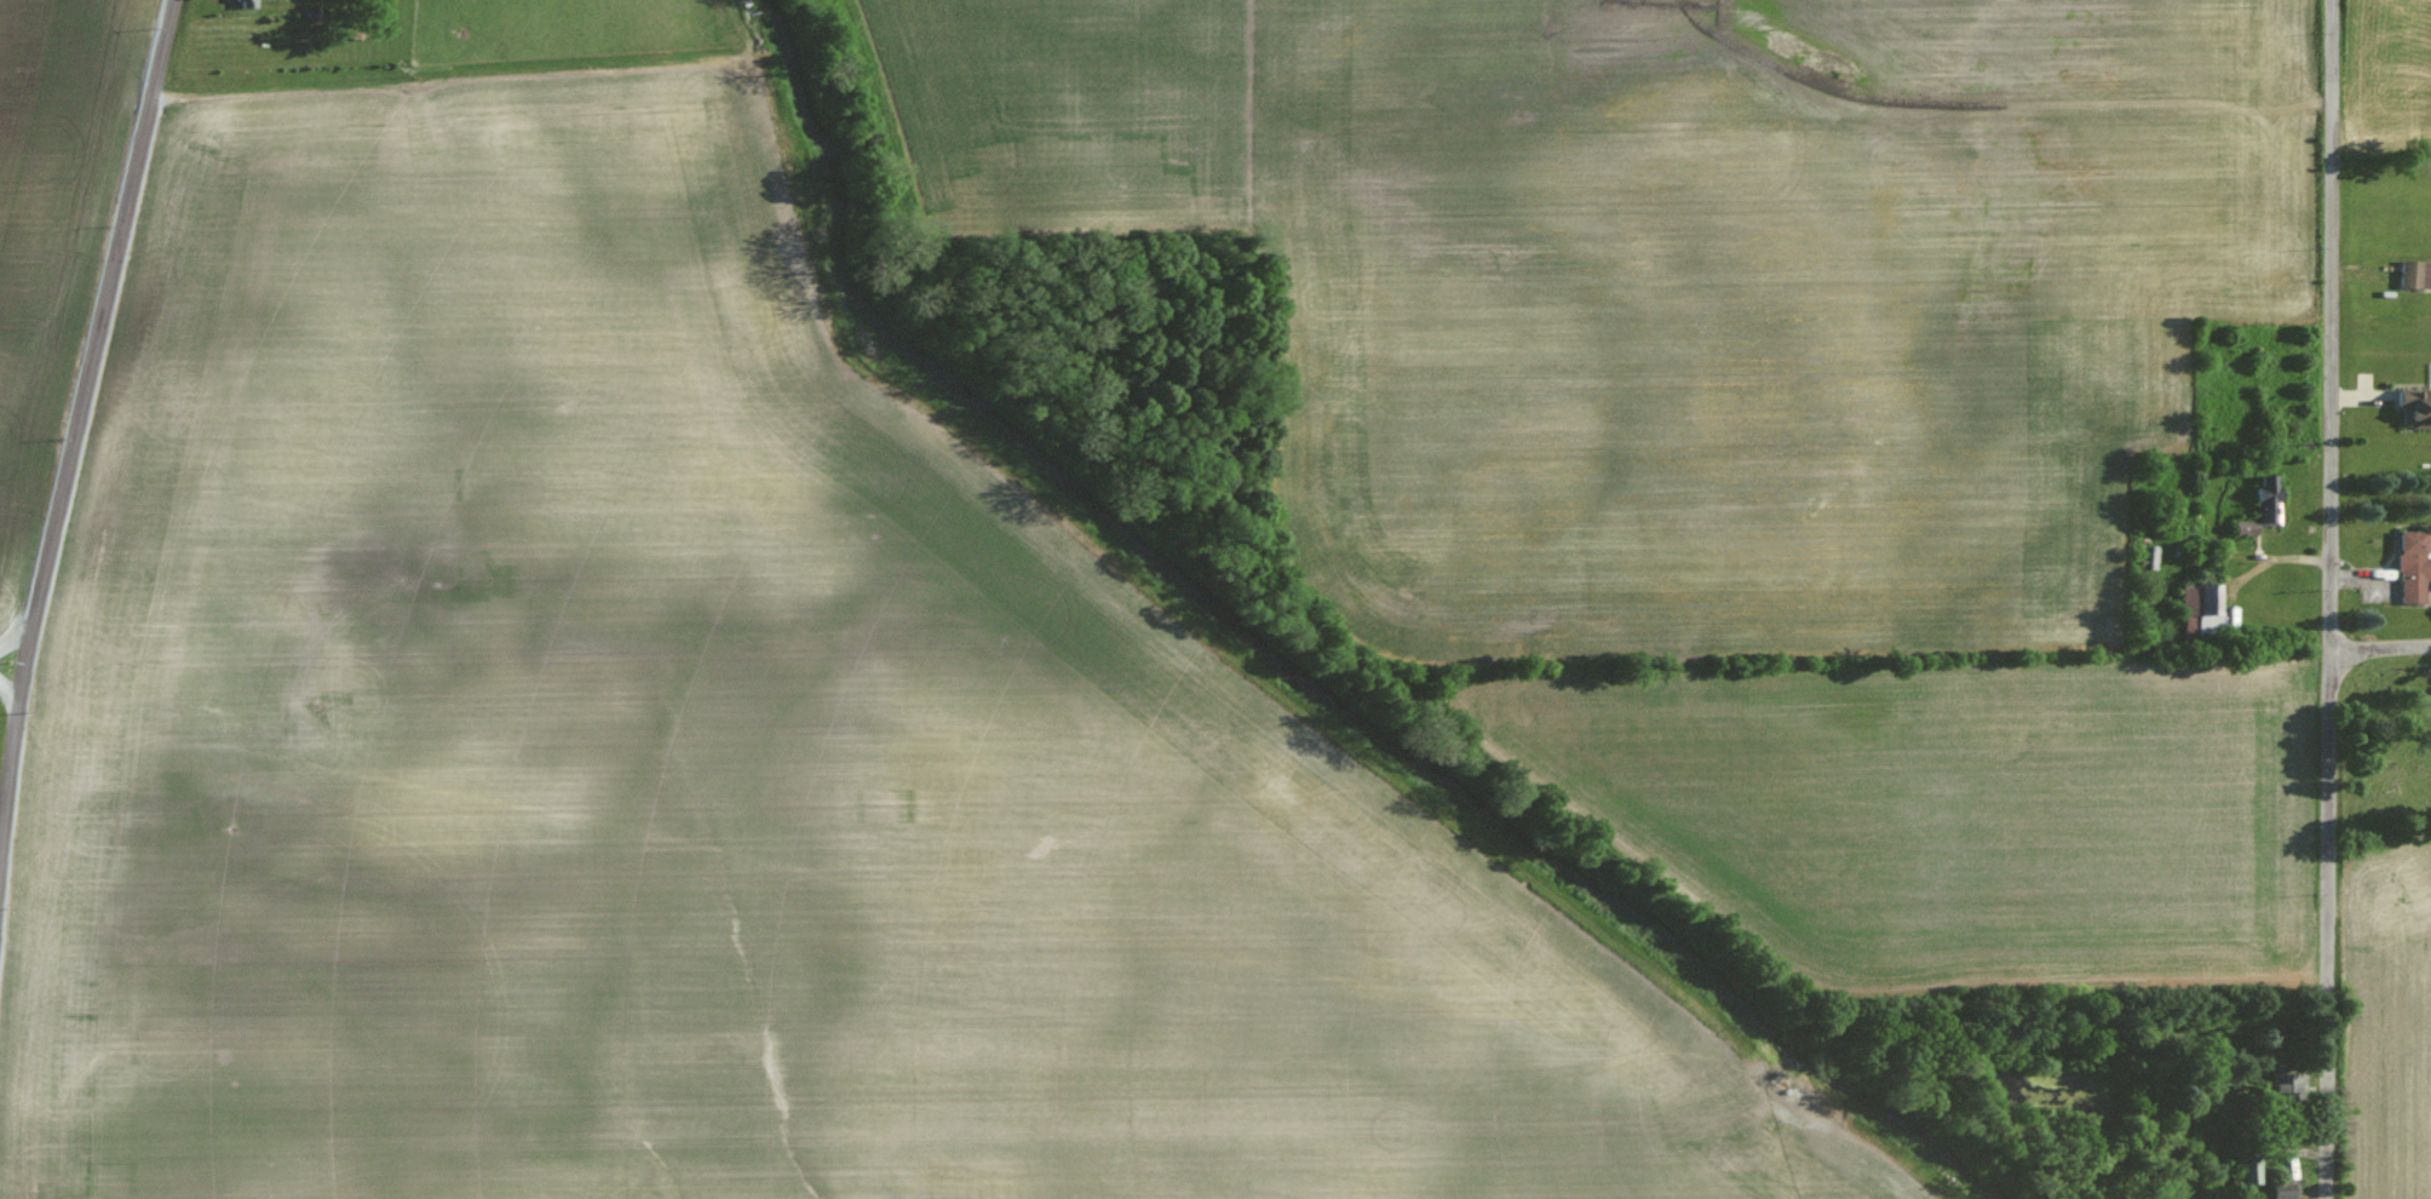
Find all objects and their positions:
building: (2413, 274)
road: (77, 408)
building: (2413, 408)
building: (2265, 495)
building: (2409, 567)
road: (2328, 598)
building: (2196, 612)
road: (2379, 650)
road: (7, 671)
building: (2281, 1083)
building: (2245, 1168)
building: (2280, 1189)

